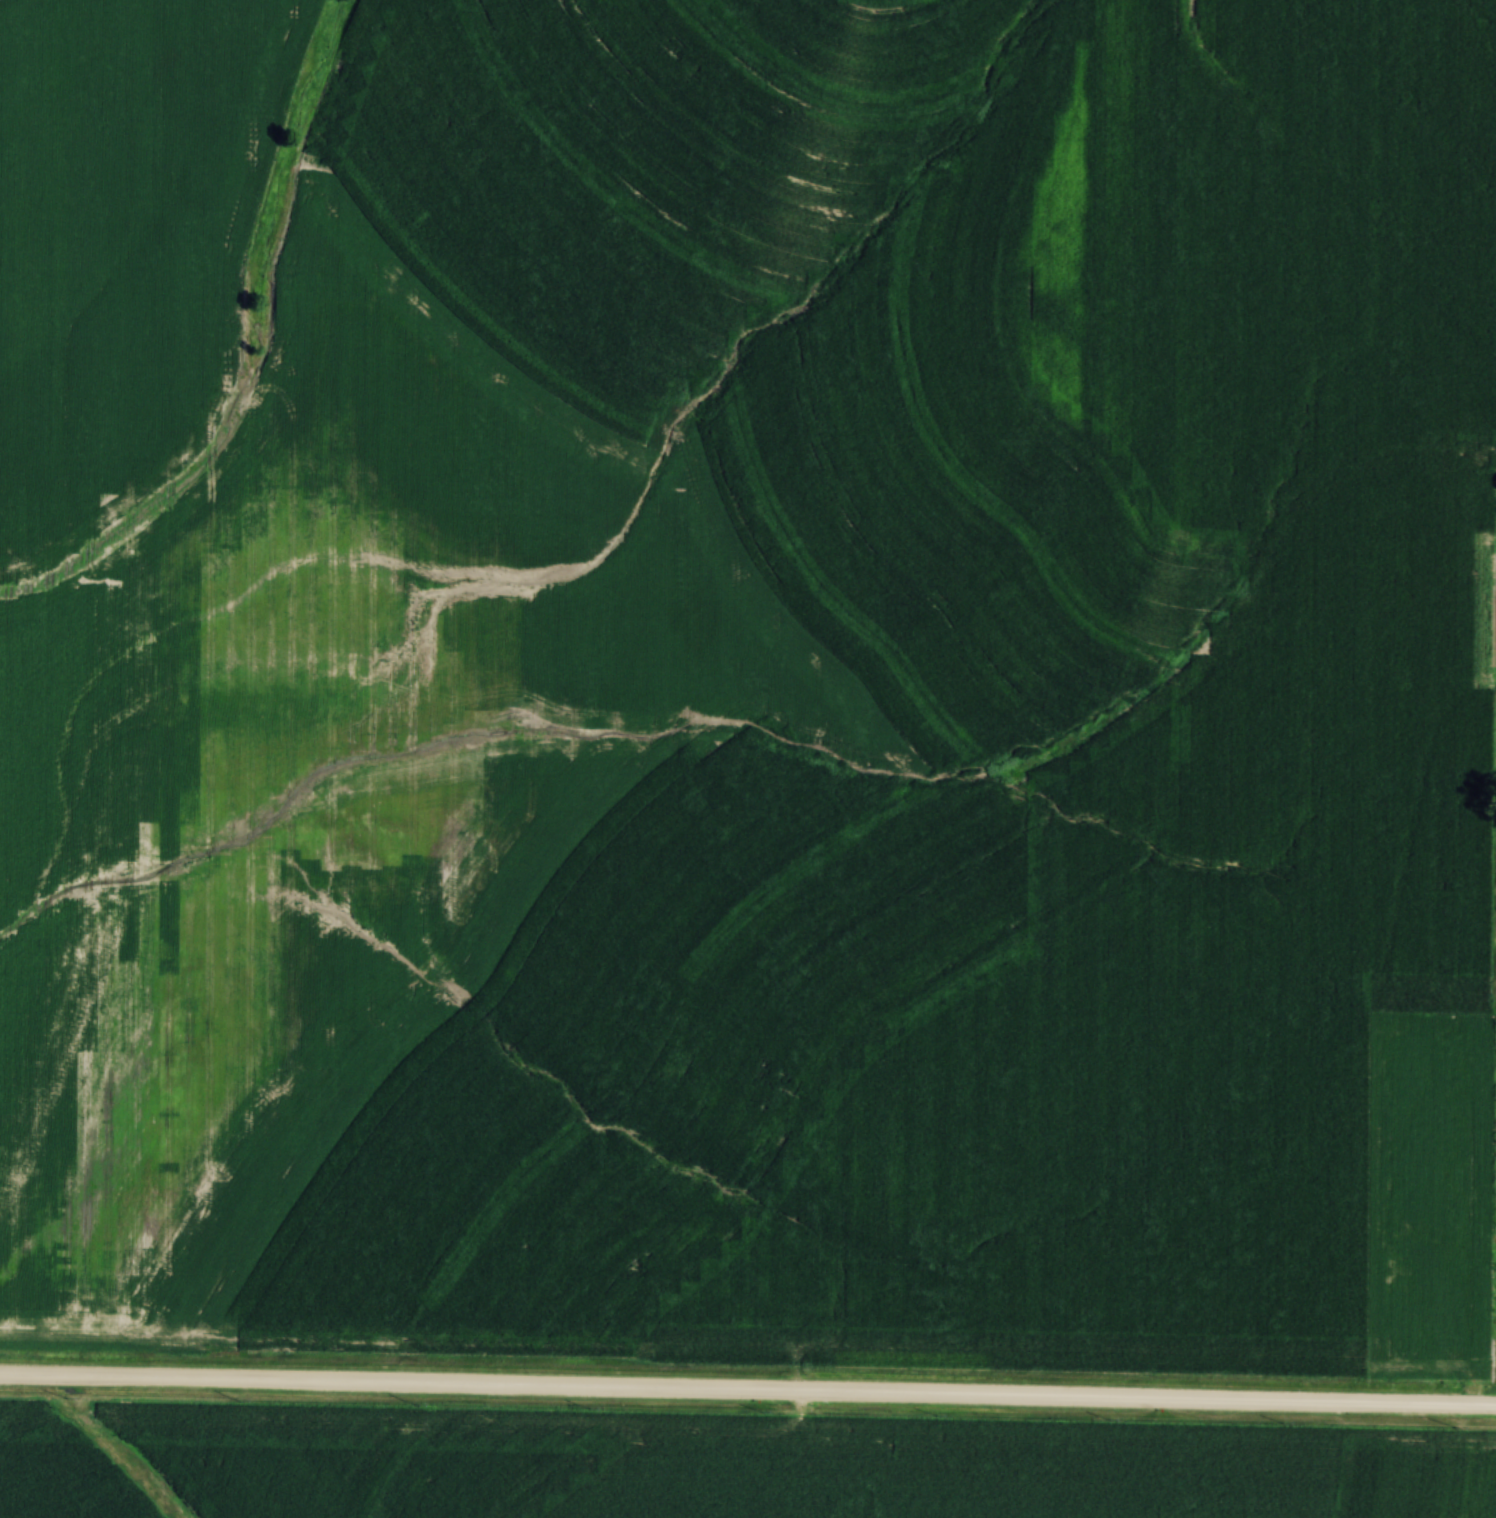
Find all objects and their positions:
road: (748, 1392)

